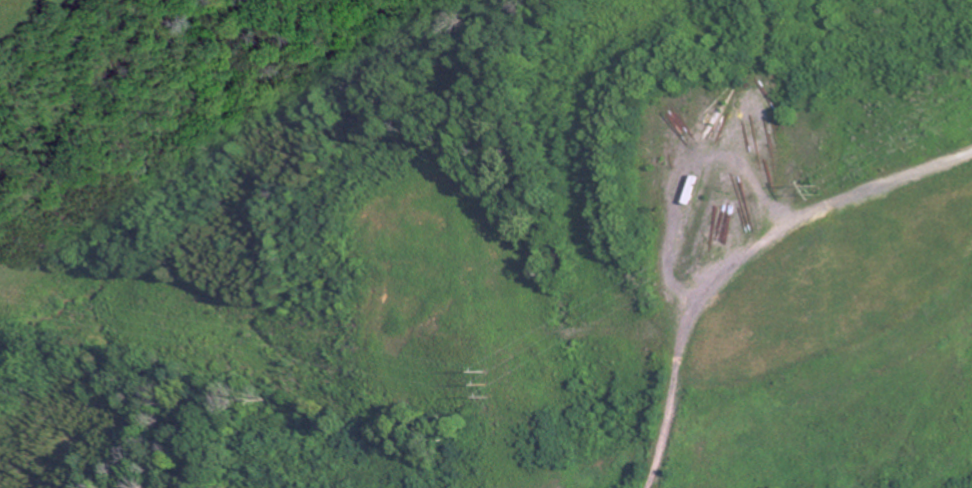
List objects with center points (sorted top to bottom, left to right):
road: (903, 25)
power tower: (815, 186)
road: (726, 209)
road: (765, 284)
power tower: (483, 382)

